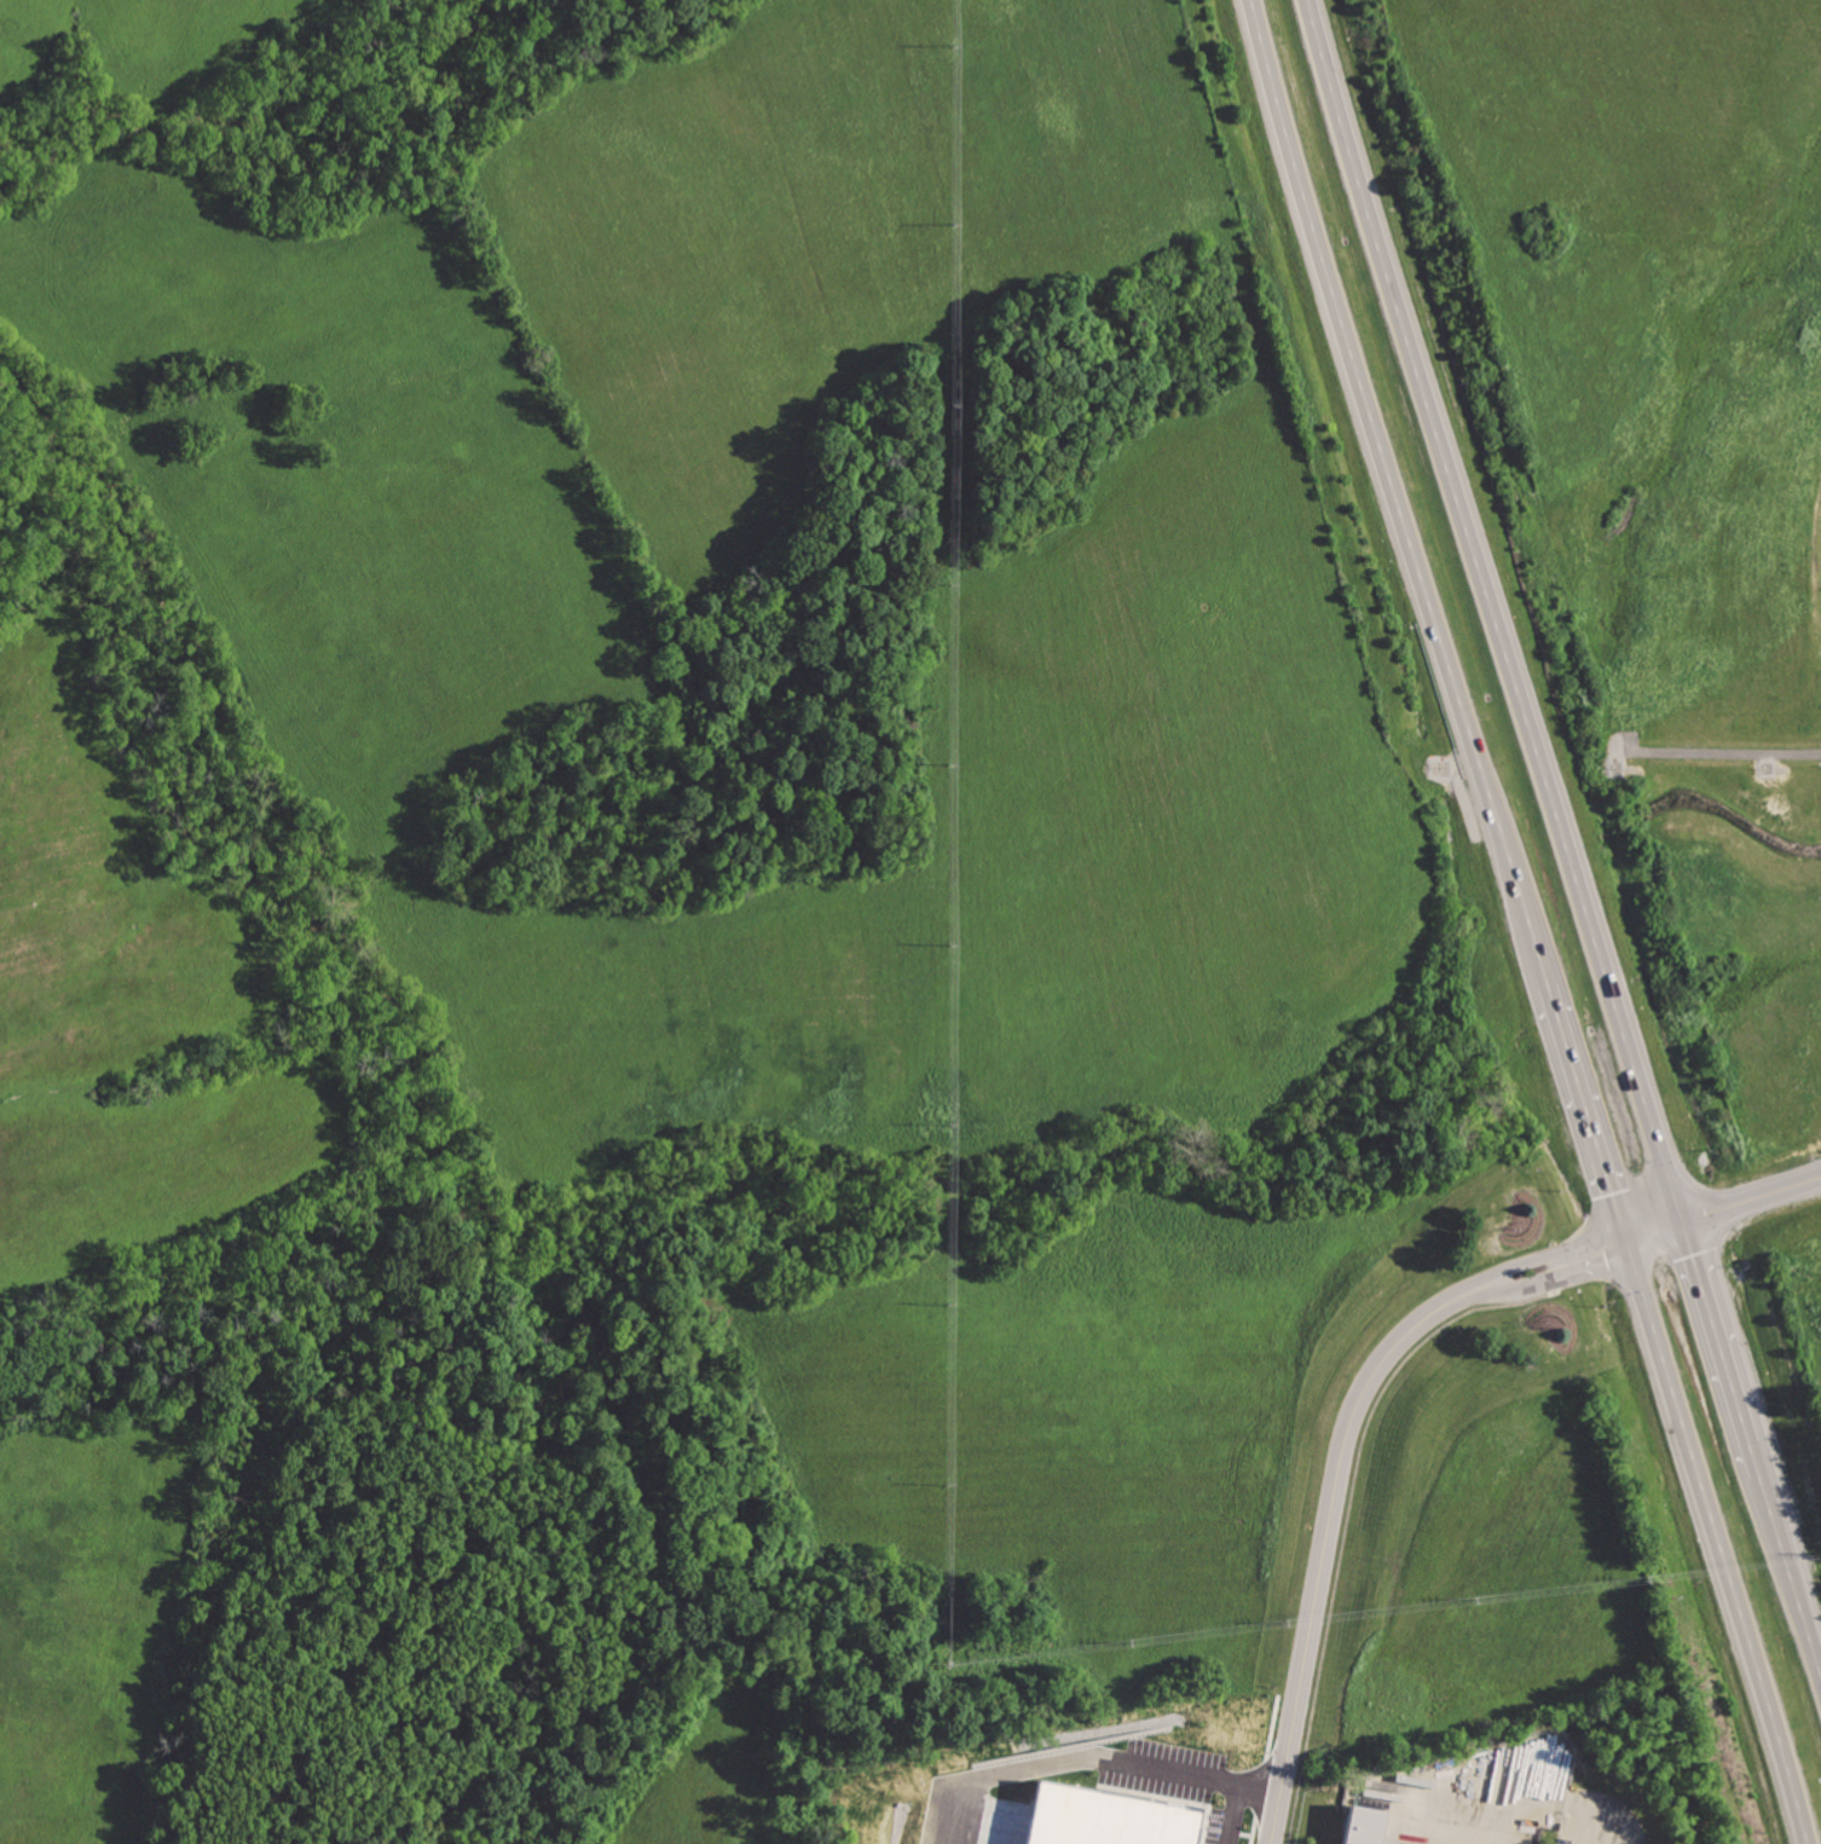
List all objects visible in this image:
road: (1395, 493)
road: (1493, 609)
road: (1725, 750)
crop: (128, 992)
road: (1586, 1114)
road: (1751, 1195)
traffic signals: (1682, 1219)
road: (1653, 1231)
traffic signals: (1625, 1243)
road: (1589, 1253)
road: (1520, 1261)
road: (1526, 1281)
road: (1716, 1329)
road: (1756, 1455)
road: (1328, 1531)
road: (1722, 1542)
road: (1791, 1567)
crop: (86, 1618)
road: (1087, 1744)
road: (1551, 1803)
road: (1226, 1808)
building: (1370, 1827)
road: (1585, 1827)

